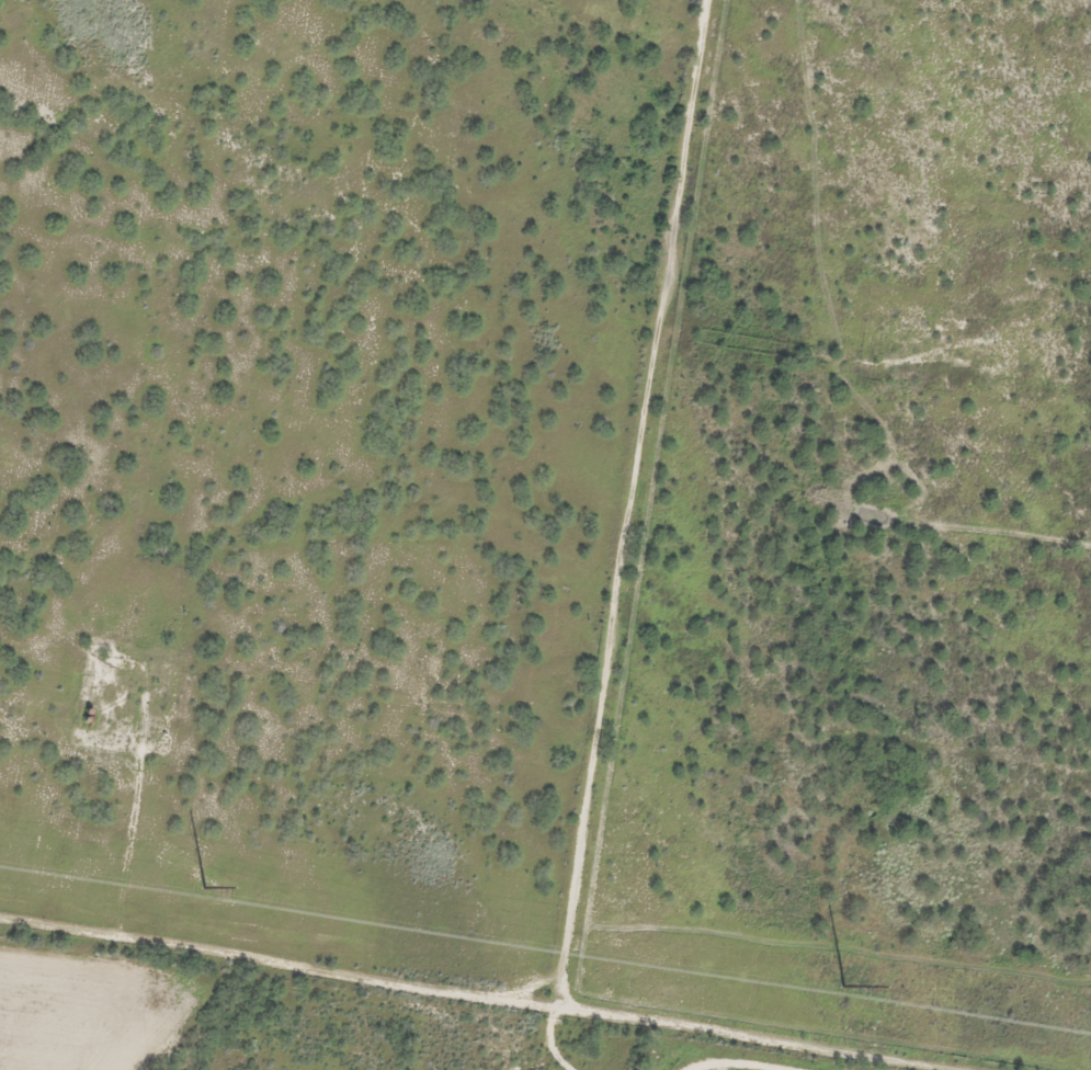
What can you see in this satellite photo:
road: (617, 640)
power tower: (204, 887)
power tower: (843, 986)
road: (23, 1006)
road: (661, 1066)

